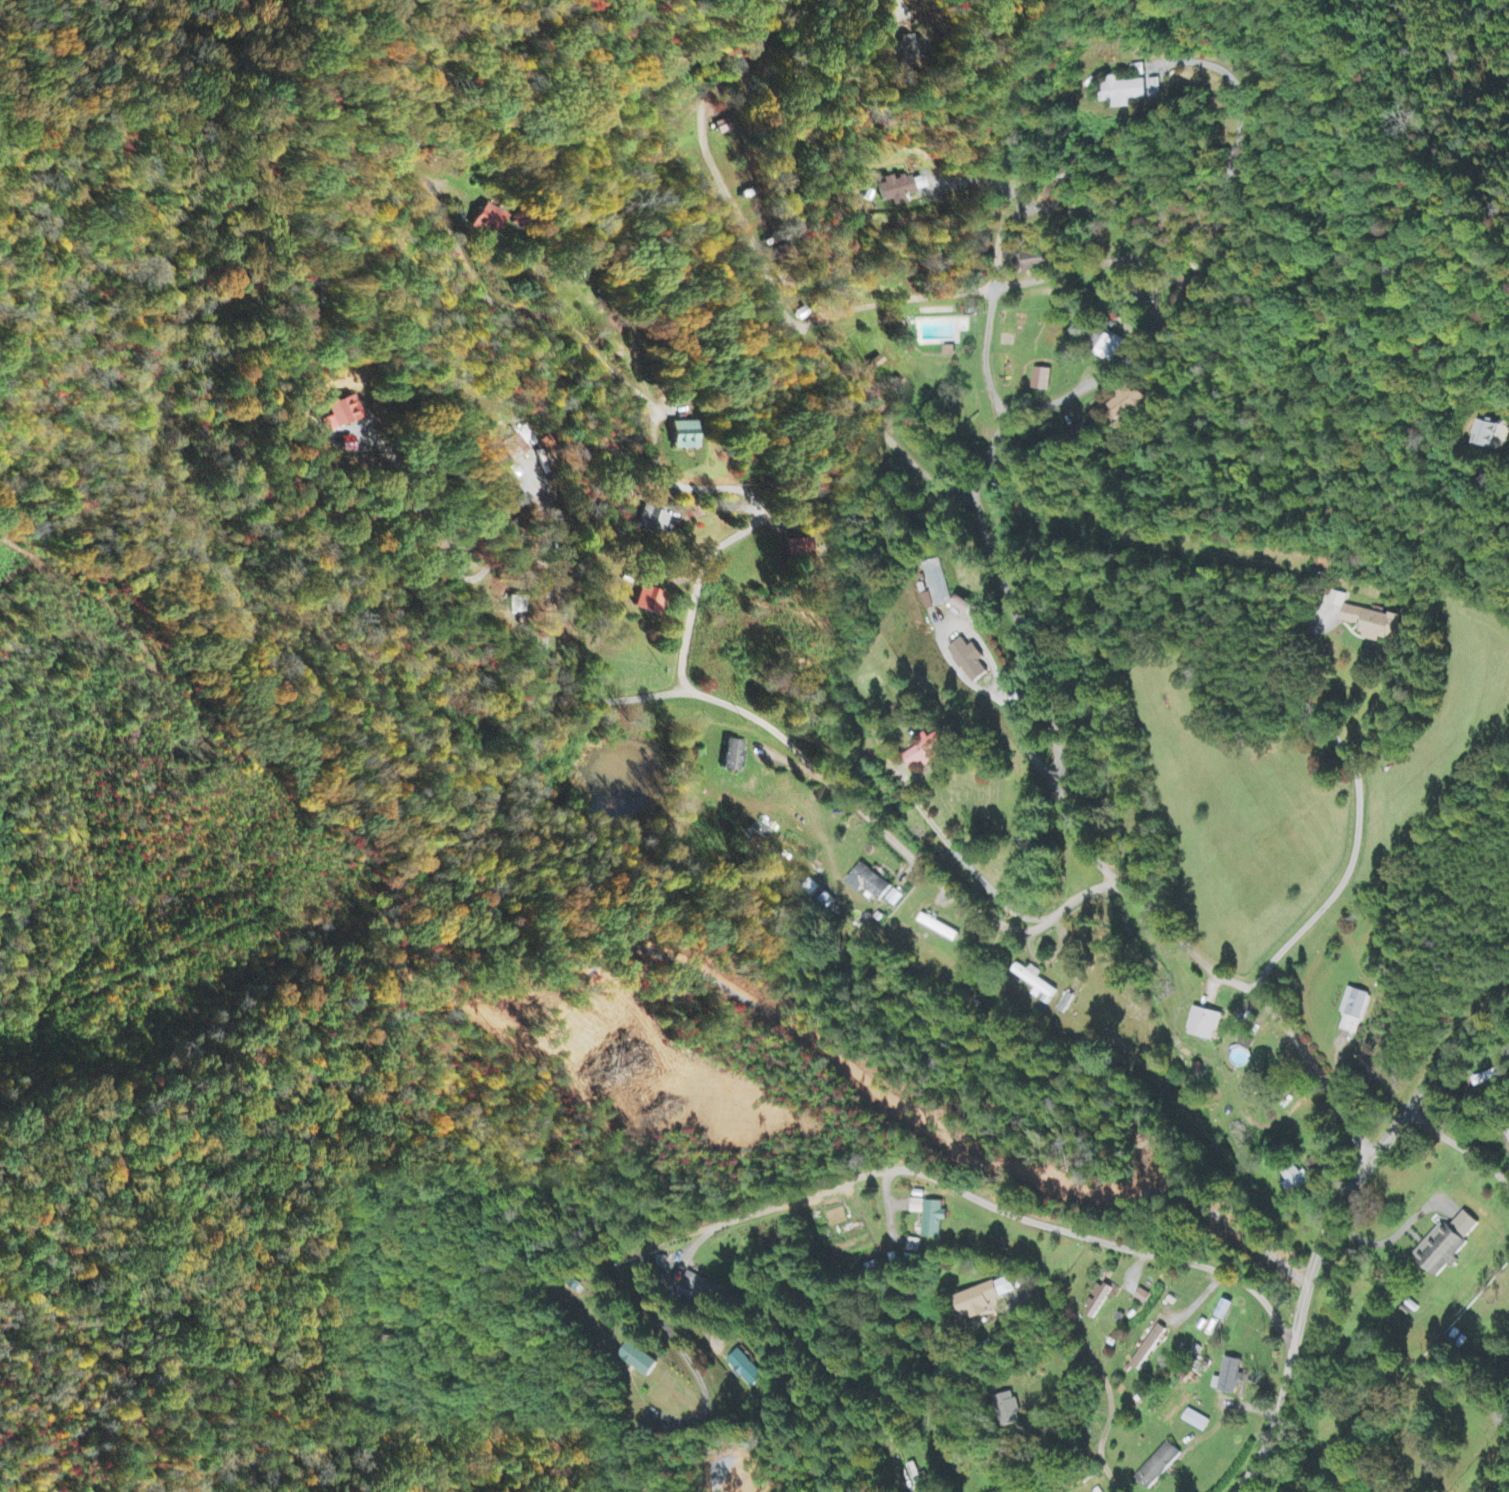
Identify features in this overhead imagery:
building: (904, 48)
building: (1137, 70)
building: (1124, 92)
building: (727, 126)
building: (901, 189)
building: (487, 222)
building: (1106, 345)
building: (1041, 380)
building: (869, 391)
building: (1126, 403)
building: (344, 411)
building: (892, 428)
building: (1486, 435)
building: (685, 436)
building: (515, 447)
road: (760, 506)
building: (652, 522)
building: (800, 550)
building: (935, 586)
building: (650, 601)
building: (520, 605)
building: (1372, 624)
road: (1049, 658)
building: (969, 661)
road: (772, 726)
building: (927, 752)
building: (734, 756)
building: (869, 883)
building: (894, 899)
building: (1034, 980)
road: (1255, 985)
building: (1352, 1011)
building: (1205, 1025)
road: (1459, 1149)
road: (935, 1179)
building: (1294, 1181)
building: (835, 1214)
building: (933, 1221)
road: (1333, 1224)
building: (1507, 1229)
building: (1446, 1246)
building: (696, 1290)
building: (1143, 1298)
building: (984, 1299)
building: (1096, 1302)
building: (1214, 1330)
building: (1148, 1349)
building: (639, 1361)
building: (745, 1370)
building: (1229, 1378)
building: (1009, 1410)
building: (1196, 1422)
road: (1495, 1463)
road: (508, 1464)
building: (1158, 1466)
road: (1106, 1470)
building: (1100, 1491)

